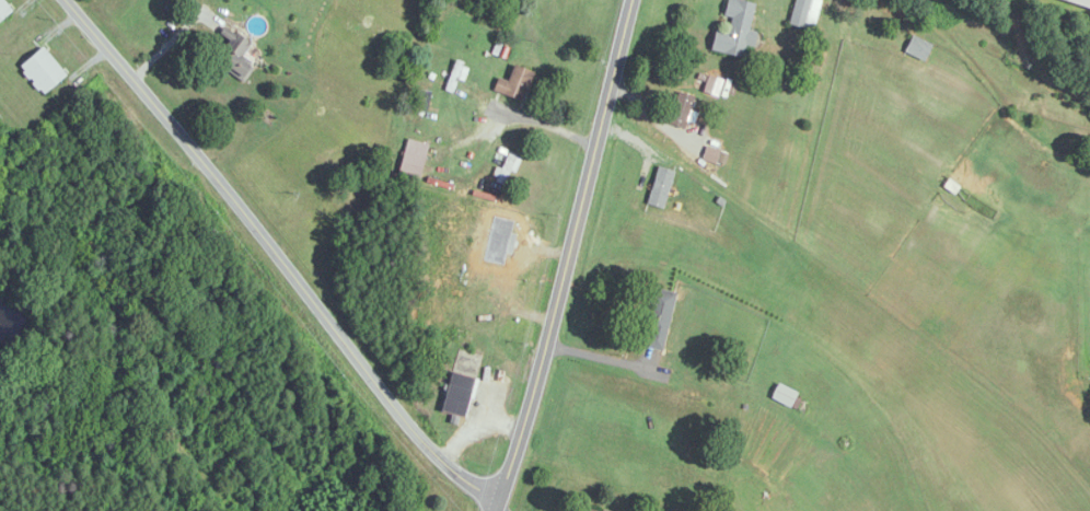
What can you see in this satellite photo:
building: (1079, 2)
building: (4, 9)
building: (735, 30)
road: (171, 40)
building: (230, 51)
building: (43, 70)
building: (514, 84)
building: (421, 102)
building: (681, 111)
road: (546, 124)
building: (414, 159)
building: (508, 169)
building: (660, 187)
road: (569, 256)
road: (276, 257)
building: (658, 318)
road: (600, 357)
building: (457, 393)
building: (784, 395)
building: (590, 509)
road: (501, 510)

